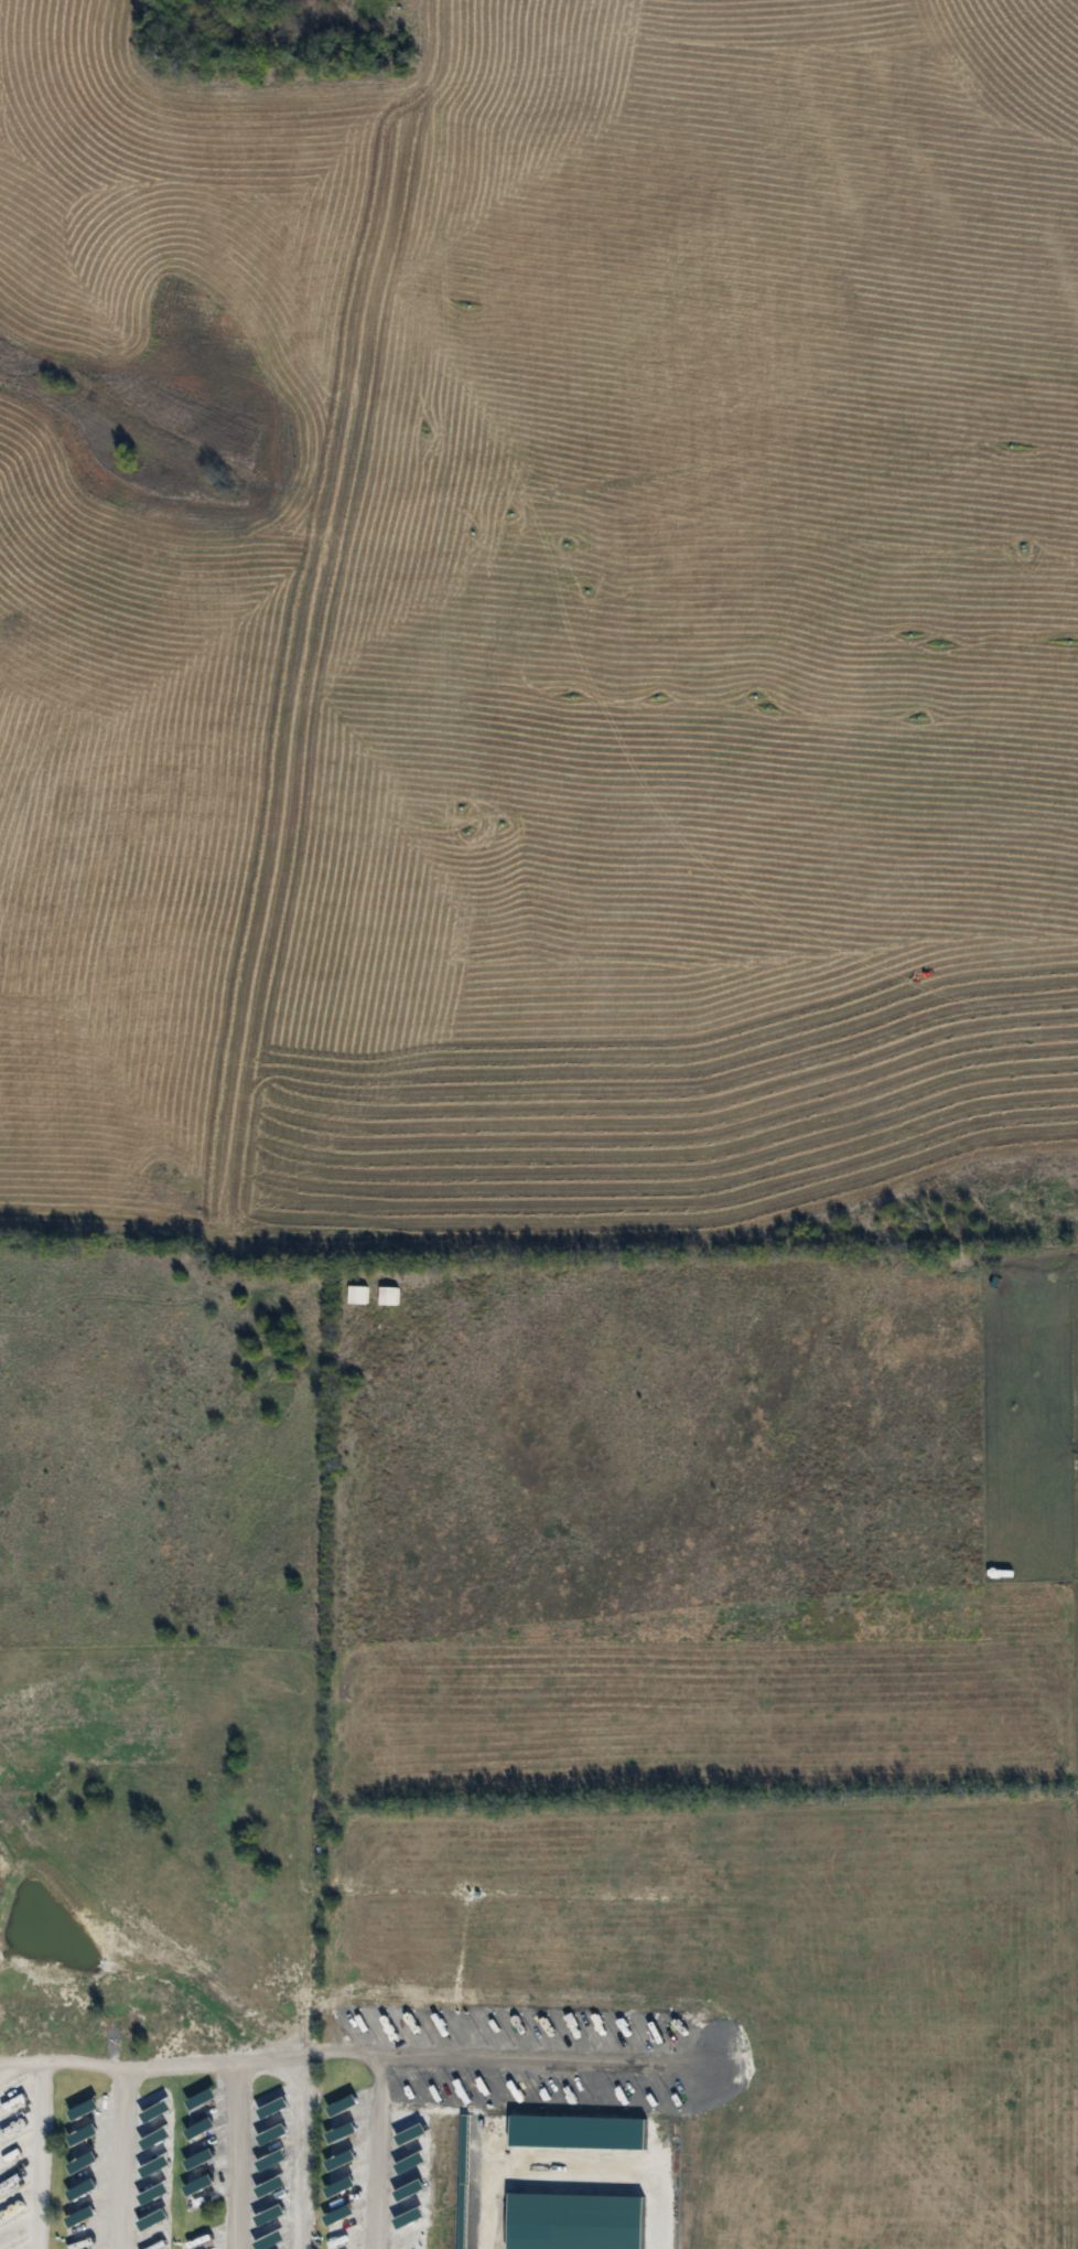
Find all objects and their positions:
road: (301, 2047)
road: (39, 2136)
building: (78, 2223)

